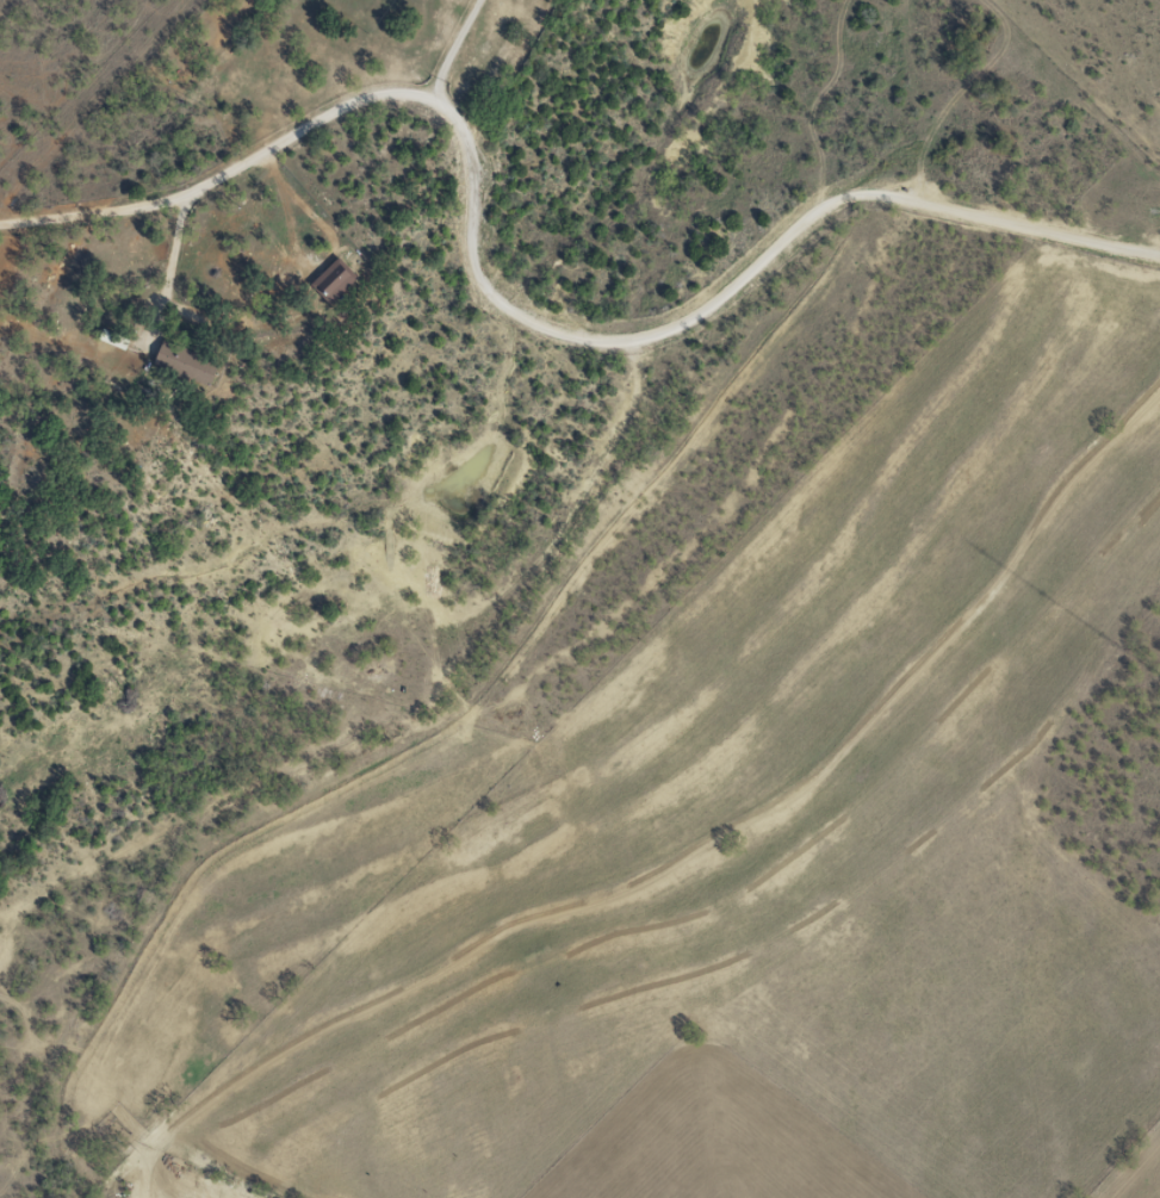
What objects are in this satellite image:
road: (507, 329)
building: (192, 364)

